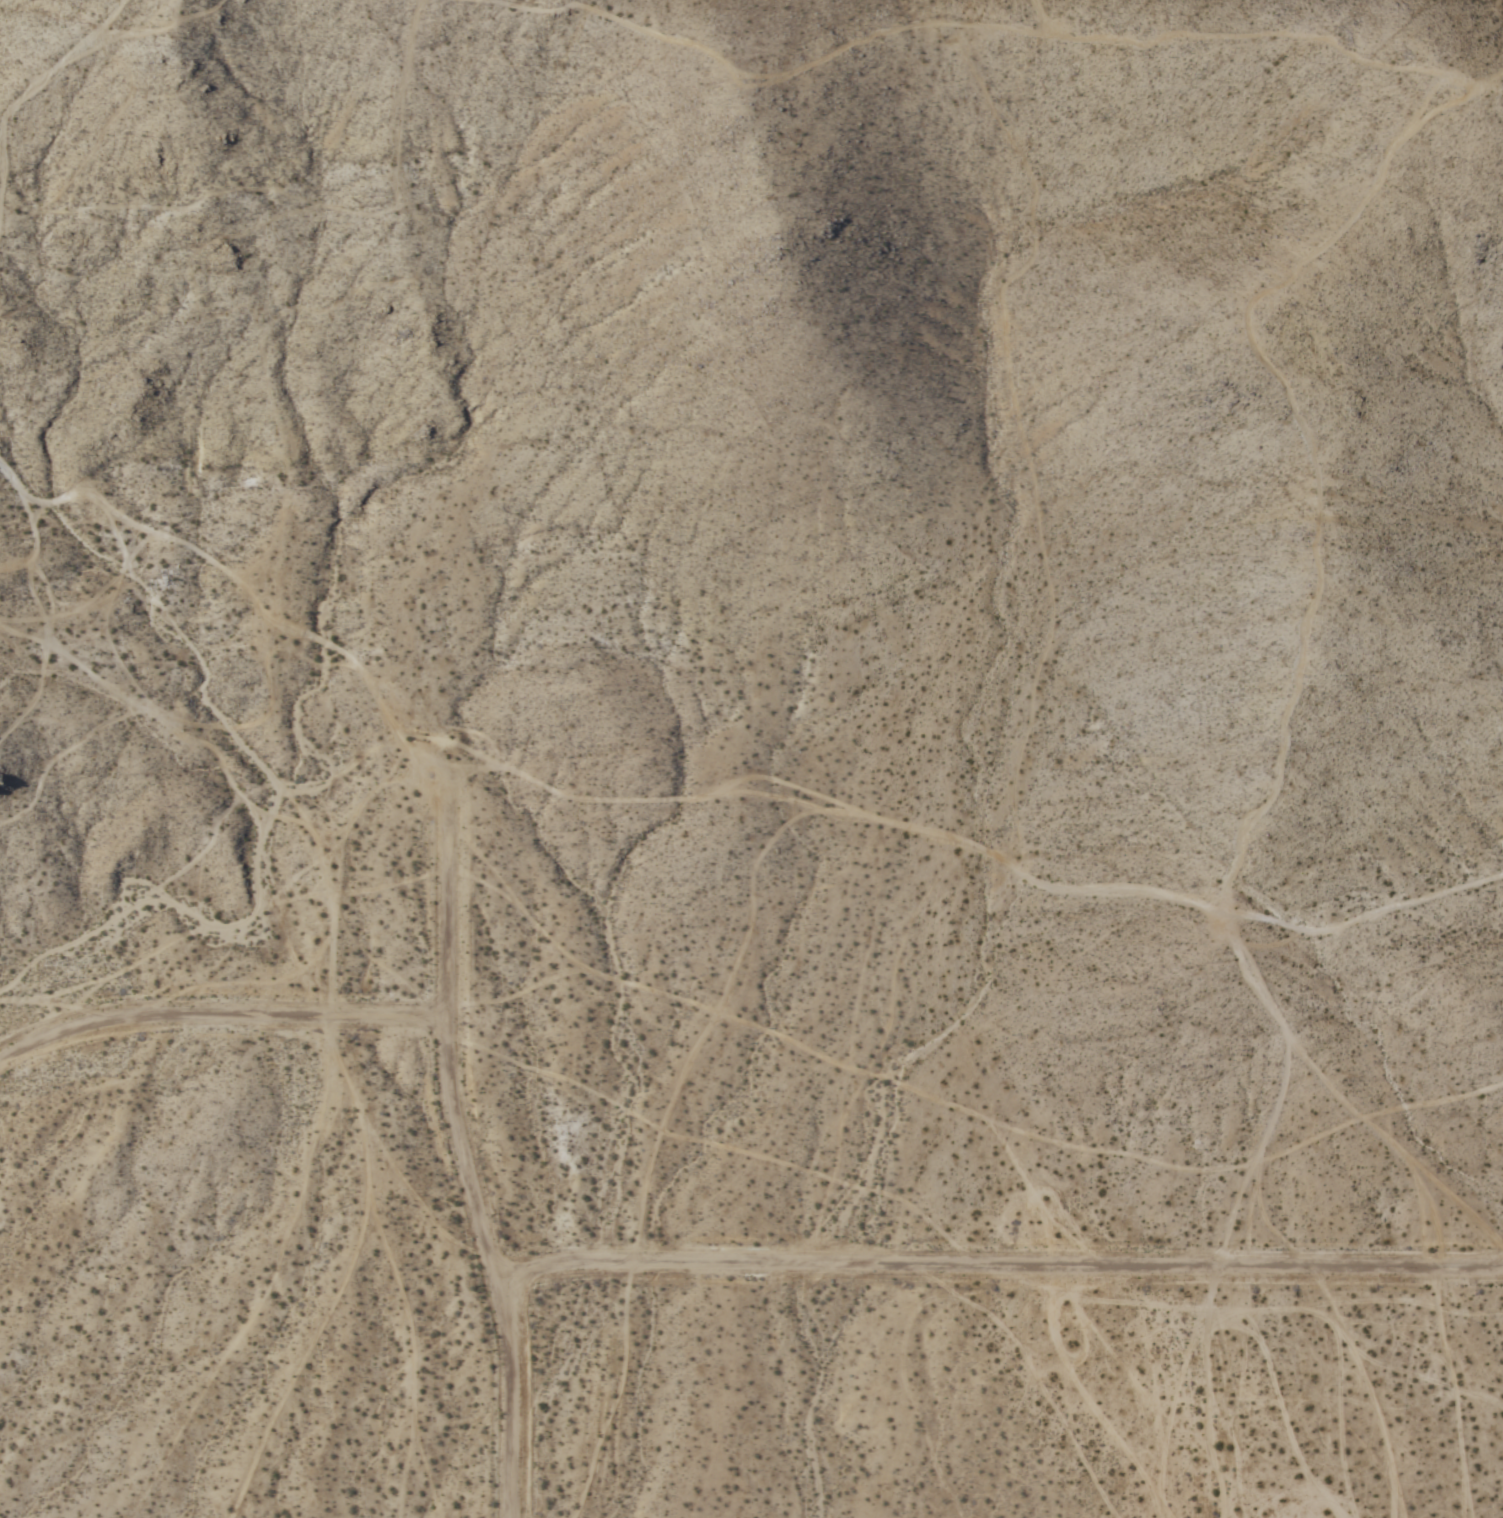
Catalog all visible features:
road: (221, 1017)
road: (469, 1173)
road: (998, 1266)

